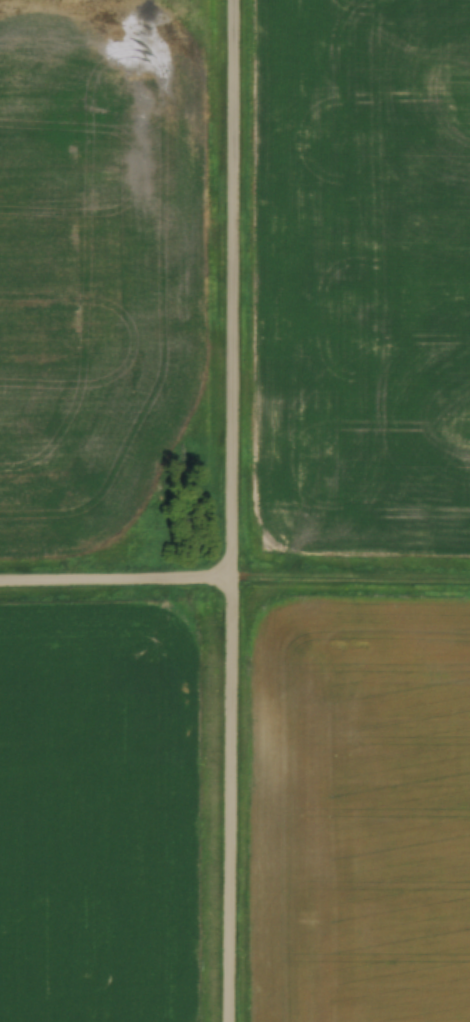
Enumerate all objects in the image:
road: (232, 511)
road: (116, 574)
road: (350, 574)

